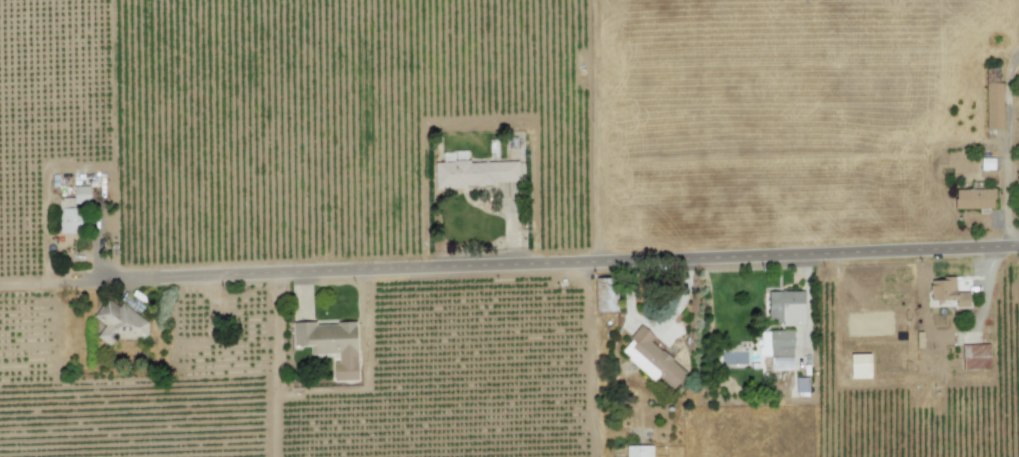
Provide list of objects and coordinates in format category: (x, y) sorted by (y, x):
building: (476, 173)
building: (973, 198)
building: (73, 211)
road: (586, 262)
building: (946, 292)
building: (605, 294)
building: (785, 307)
building: (122, 323)
building: (332, 344)
building: (776, 348)
building: (733, 356)
building: (651, 358)
building: (801, 386)
building: (638, 451)

